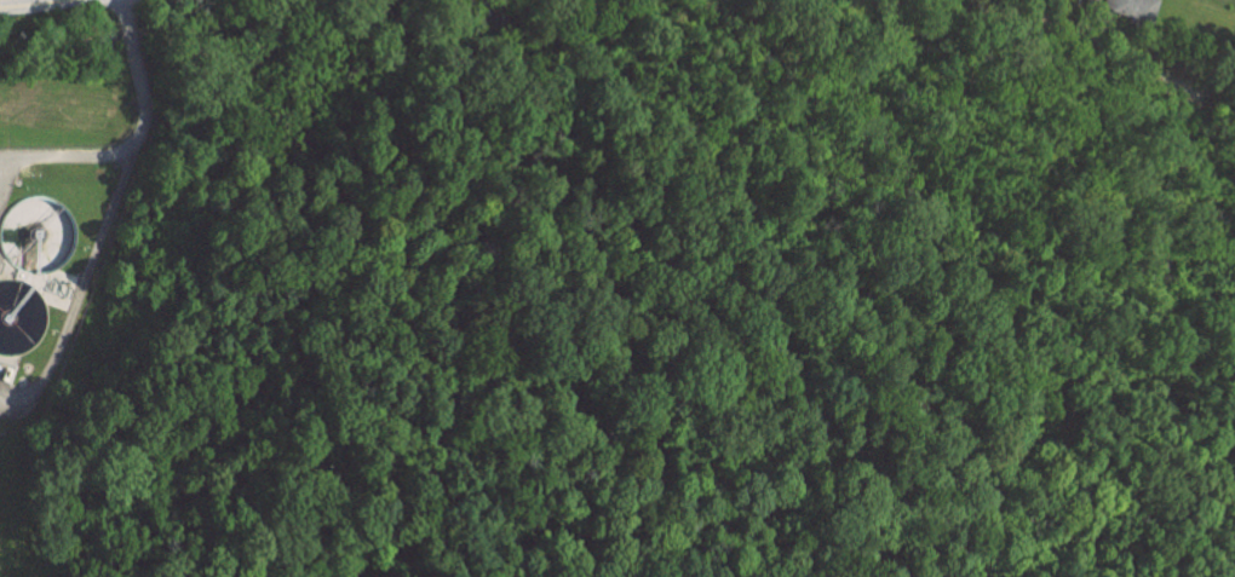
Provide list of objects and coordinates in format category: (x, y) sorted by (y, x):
road: (33, 5)
building: (1132, 8)
road: (147, 145)

